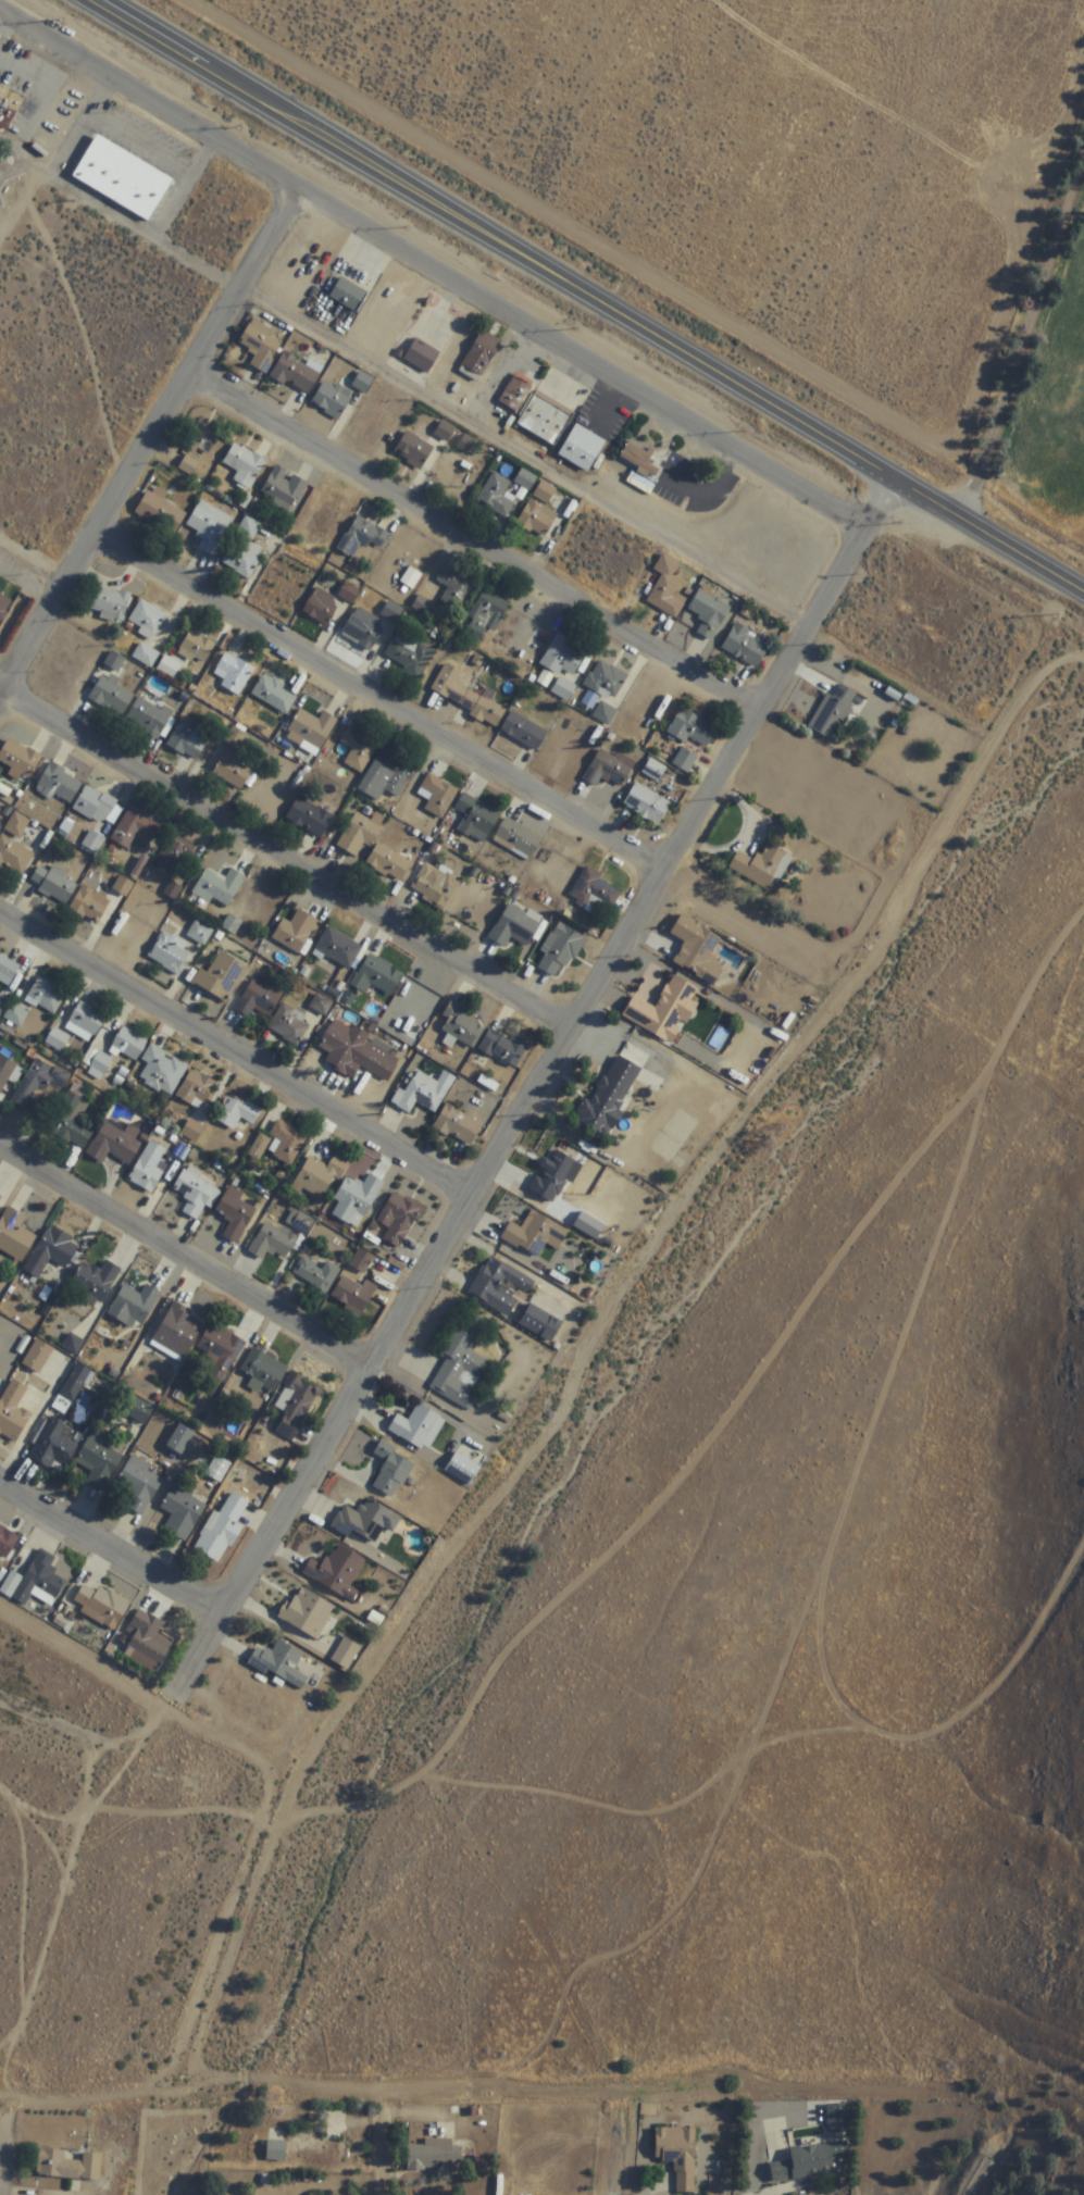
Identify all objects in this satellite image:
road: (2, 23)
road: (11, 29)
gas station: (0, 39)
road: (3, 42)
building: (15, 112)
road: (102, 122)
building: (123, 178)
road: (3, 187)
road: (578, 233)
road: (40, 266)
road: (434, 273)
road: (1024, 278)
building: (349, 296)
road: (578, 298)
road: (95, 337)
road: (1024, 346)
building: (261, 347)
building: (422, 357)
building: (481, 357)
building: (296, 375)
building: (363, 383)
building: (518, 394)
building: (332, 399)
building: (545, 420)
building: (445, 432)
building: (204, 438)
building: (465, 445)
road: (159, 449)
building: (582, 449)
building: (413, 450)
building: (639, 459)
building: (245, 463)
road: (532, 463)
building: (189, 466)
road: (973, 470)
building: (525, 481)
building: (284, 489)
building: (545, 492)
building: (498, 497)
building: (160, 511)
building: (537, 519)
building: (210, 528)
building: (362, 537)
building: (245, 551)
road: (479, 551)
road: (35, 577)
building: (454, 588)
building: (669, 590)
building: (349, 593)
building: (111, 603)
building: (4, 607)
building: (322, 607)
building: (393, 612)
building: (710, 614)
building: (148, 620)
building: (486, 620)
building: (363, 628)
building: (747, 647)
building: (197, 648)
building: (410, 656)
building: (564, 658)
building: (234, 675)
building: (606, 682)
building: (564, 689)
building: (275, 696)
road: (4, 697)
building: (111, 697)
building: (465, 697)
road: (4, 708)
road: (386, 709)
building: (834, 713)
building: (606, 714)
building: (148, 719)
building: (693, 729)
building: (312, 731)
building: (524, 733)
building: (189, 740)
building: (359, 751)
building: (20, 760)
building: (686, 762)
building: (236, 769)
building: (610, 770)
building: (655, 772)
building: (387, 778)
building: (59, 786)
building: (437, 799)
building: (648, 806)
building: (98, 808)
building: (1, 812)
building: (310, 819)
building: (476, 820)
building: (17, 826)
building: (135, 831)
building: (359, 836)
building: (518, 840)
building: (14, 857)
building: (174, 859)
road: (294, 864)
building: (389, 865)
building: (763, 865)
building: (54, 885)
building: (219, 888)
building: (436, 888)
building: (174, 891)
building: (595, 891)
building: (90, 906)
building: (515, 928)
building: (296, 931)
building: (200, 935)
building: (695, 943)
building: (338, 949)
building: (560, 952)
building: (170, 953)
building: (8, 972)
building: (377, 977)
building: (222, 978)
building: (46, 995)
building: (260, 1000)
building: (322, 1006)
building: (664, 1009)
building: (16, 1013)
building: (86, 1020)
building: (462, 1026)
building: (290, 1027)
building: (129, 1043)
building: (503, 1049)
road: (564, 1049)
building: (357, 1052)
road: (238, 1061)
building: (162, 1070)
building: (5, 1071)
building: (37, 1083)
building: (197, 1092)
building: (423, 1094)
building: (610, 1095)
building: (235, 1111)
building: (71, 1120)
building: (458, 1127)
building: (279, 1143)
building: (114, 1144)
building: (150, 1165)
building: (320, 1175)
building: (197, 1192)
building: (356, 1199)
building: (236, 1213)
building: (399, 1218)
building: (536, 1233)
building: (14, 1235)
building: (272, 1242)
building: (51, 1251)
road: (188, 1260)
building: (317, 1274)
building: (561, 1276)
building: (94, 1282)
building: (502, 1287)
building: (354, 1295)
building: (134, 1306)
building: (540, 1321)
building: (178, 1331)
building: (220, 1350)
building: (38, 1356)
building: (462, 1362)
building: (263, 1370)
building: (75, 1382)
building: (296, 1405)
building: (13, 1412)
building: (419, 1426)
building: (180, 1438)
building: (53, 1445)
building: (99, 1460)
building: (463, 1468)
building: (393, 1469)
building: (139, 1484)
building: (191, 1501)
building: (367, 1521)
building: (222, 1529)
building: (7, 1541)
road: (105, 1547)
building: (337, 1570)
building: (39, 1581)
building: (100, 1602)
building: (308, 1612)
building: (148, 1641)
building: (347, 1653)
building: (282, 1663)
road: (190, 1669)
road: (74, 1831)
building: (837, 2117)
building: (276, 2149)
building: (313, 2150)
road: (616, 2154)
building: (677, 2154)
building: (433, 2155)
building: (809, 2161)
building: (58, 2166)
road: (379, 2181)

